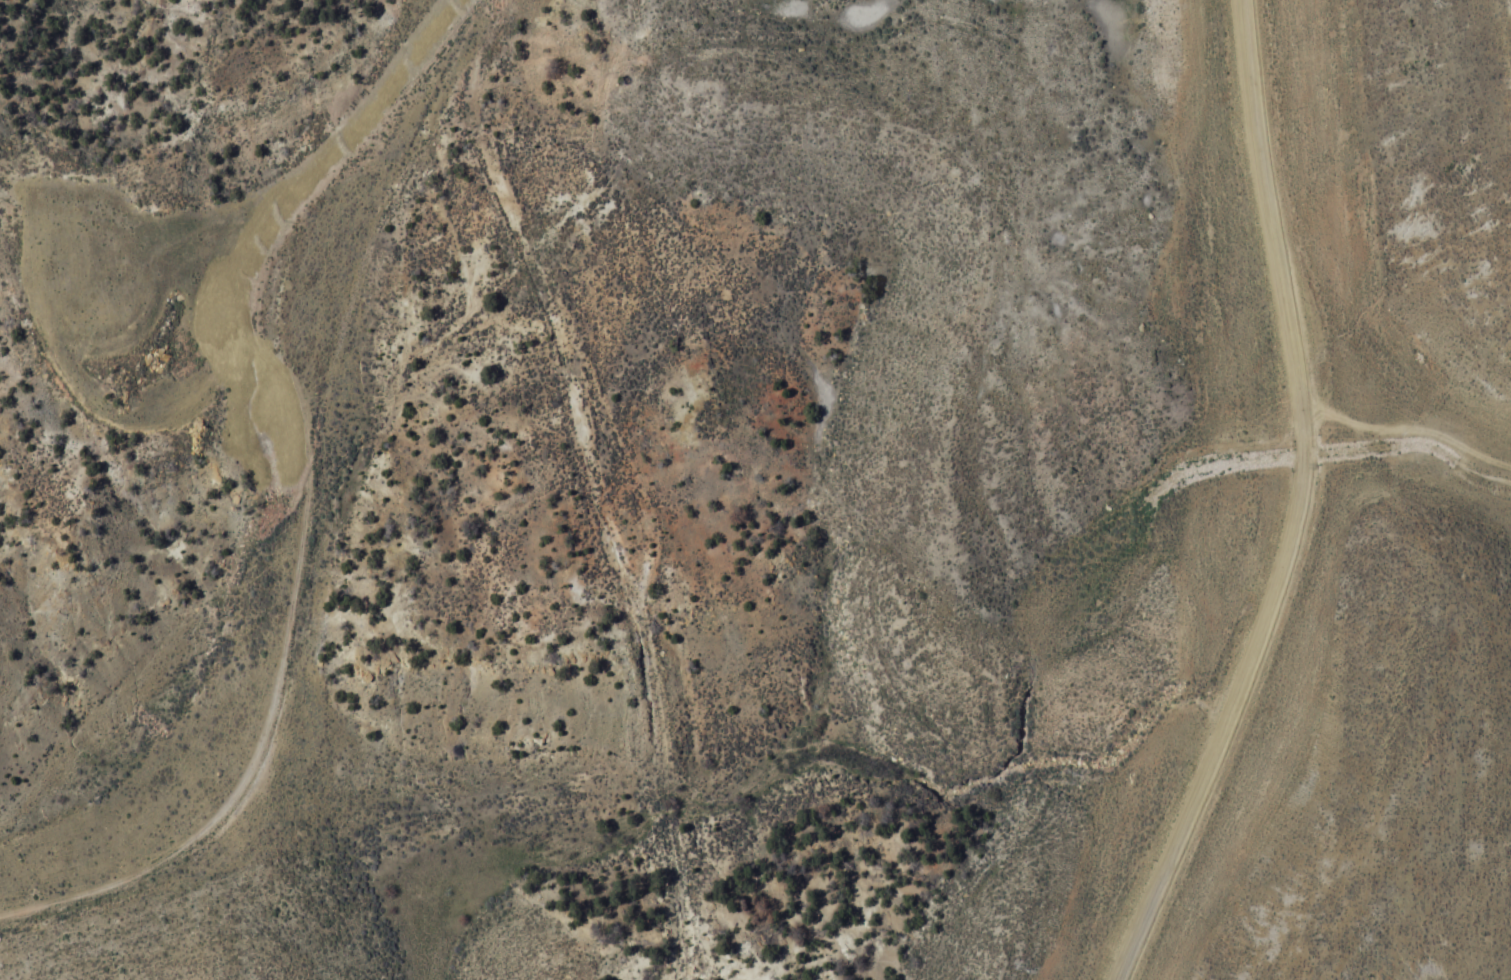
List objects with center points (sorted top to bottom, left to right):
road: (330, 156)
road: (1354, 367)
road: (1299, 506)
road: (275, 688)

